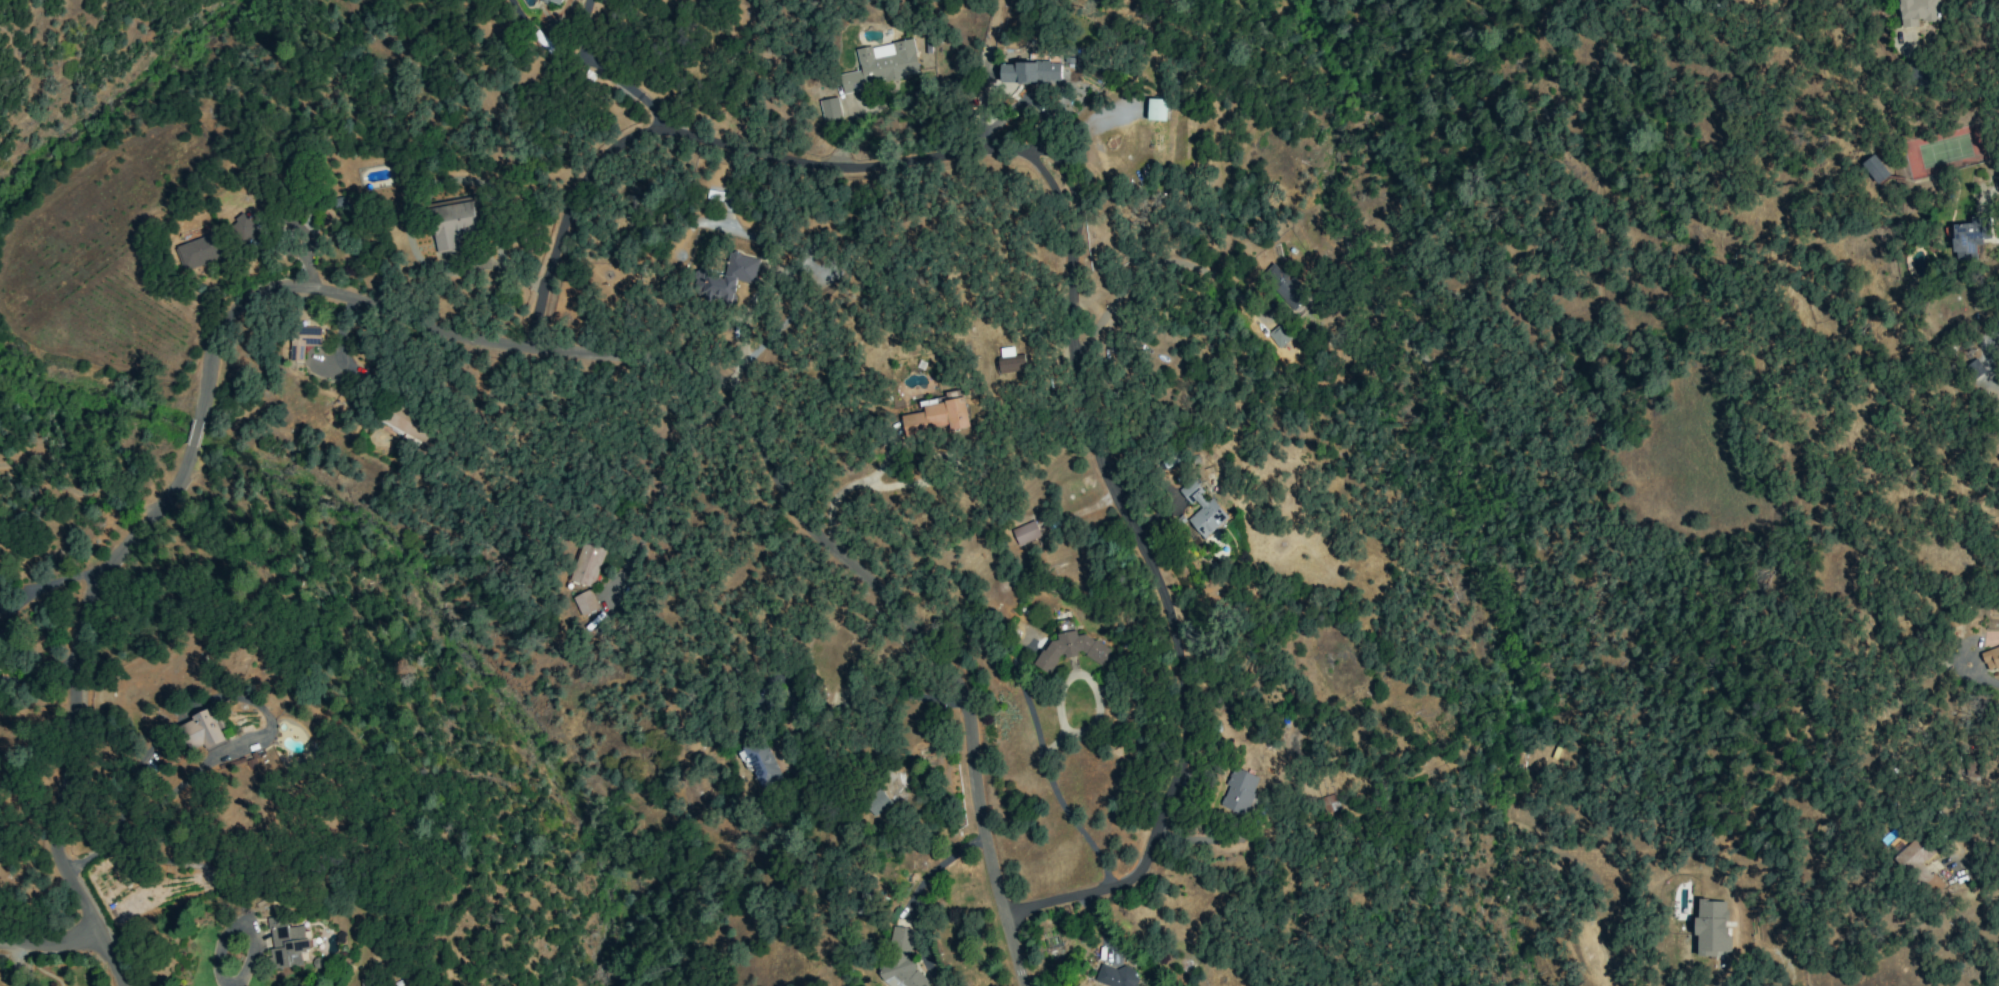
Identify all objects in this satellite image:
building: (555, 2)
building: (1917, 12)
building: (882, 65)
building: (1029, 72)
road: (626, 89)
road: (1948, 93)
building: (829, 109)
building: (1156, 109)
building: (1874, 169)
building: (451, 221)
building: (243, 226)
building: (1969, 236)
building: (197, 251)
road: (1076, 261)
road: (1154, 266)
building: (725, 277)
building: (1282, 285)
road: (454, 334)
building: (1278, 336)
building: (302, 341)
road: (1989, 356)
building: (1009, 360)
building: (1973, 369)
building: (936, 417)
road: (913, 452)
road: (657, 486)
road: (1168, 488)
road: (75, 492)
building: (1204, 510)
building: (1025, 533)
building: (585, 564)
building: (584, 602)
building: (1070, 650)
building: (1990, 658)
road: (1986, 679)
road: (775, 710)
road: (824, 713)
building: (202, 730)
building: (758, 763)
building: (262, 764)
road: (196, 772)
building: (1239, 791)
building: (876, 803)
building: (1329, 803)
building: (1919, 864)
building: (1710, 928)
road: (50, 942)
building: (286, 943)
road: (235, 966)
road: (1760, 977)
building: (367, 981)
road: (1997, 982)

